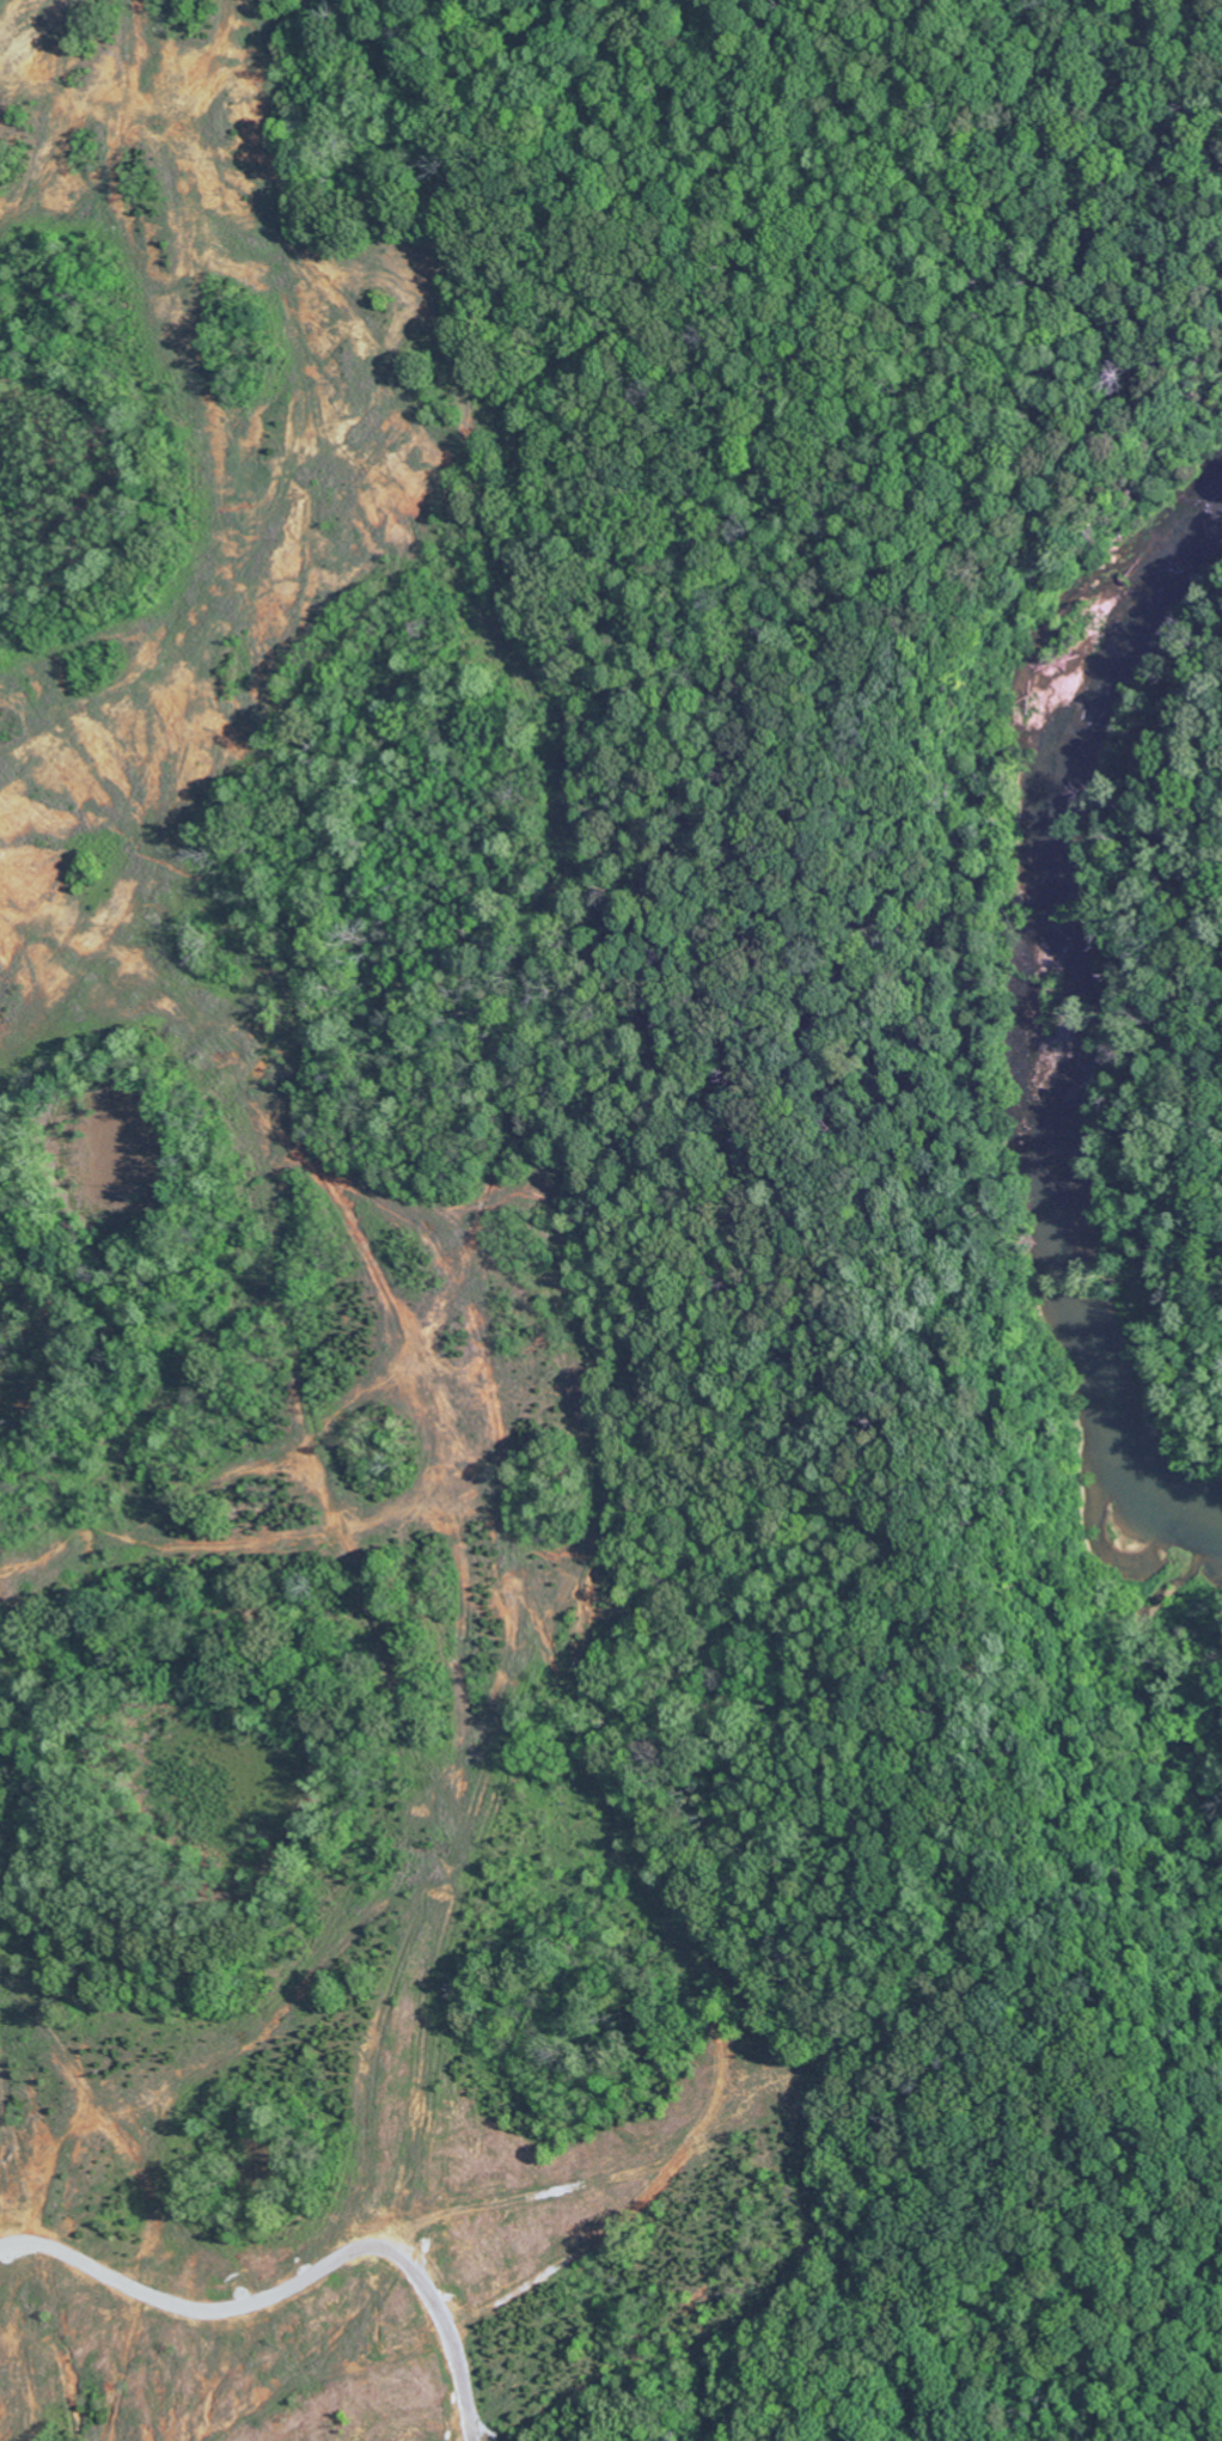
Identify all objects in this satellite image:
river: (1069, 1009)

